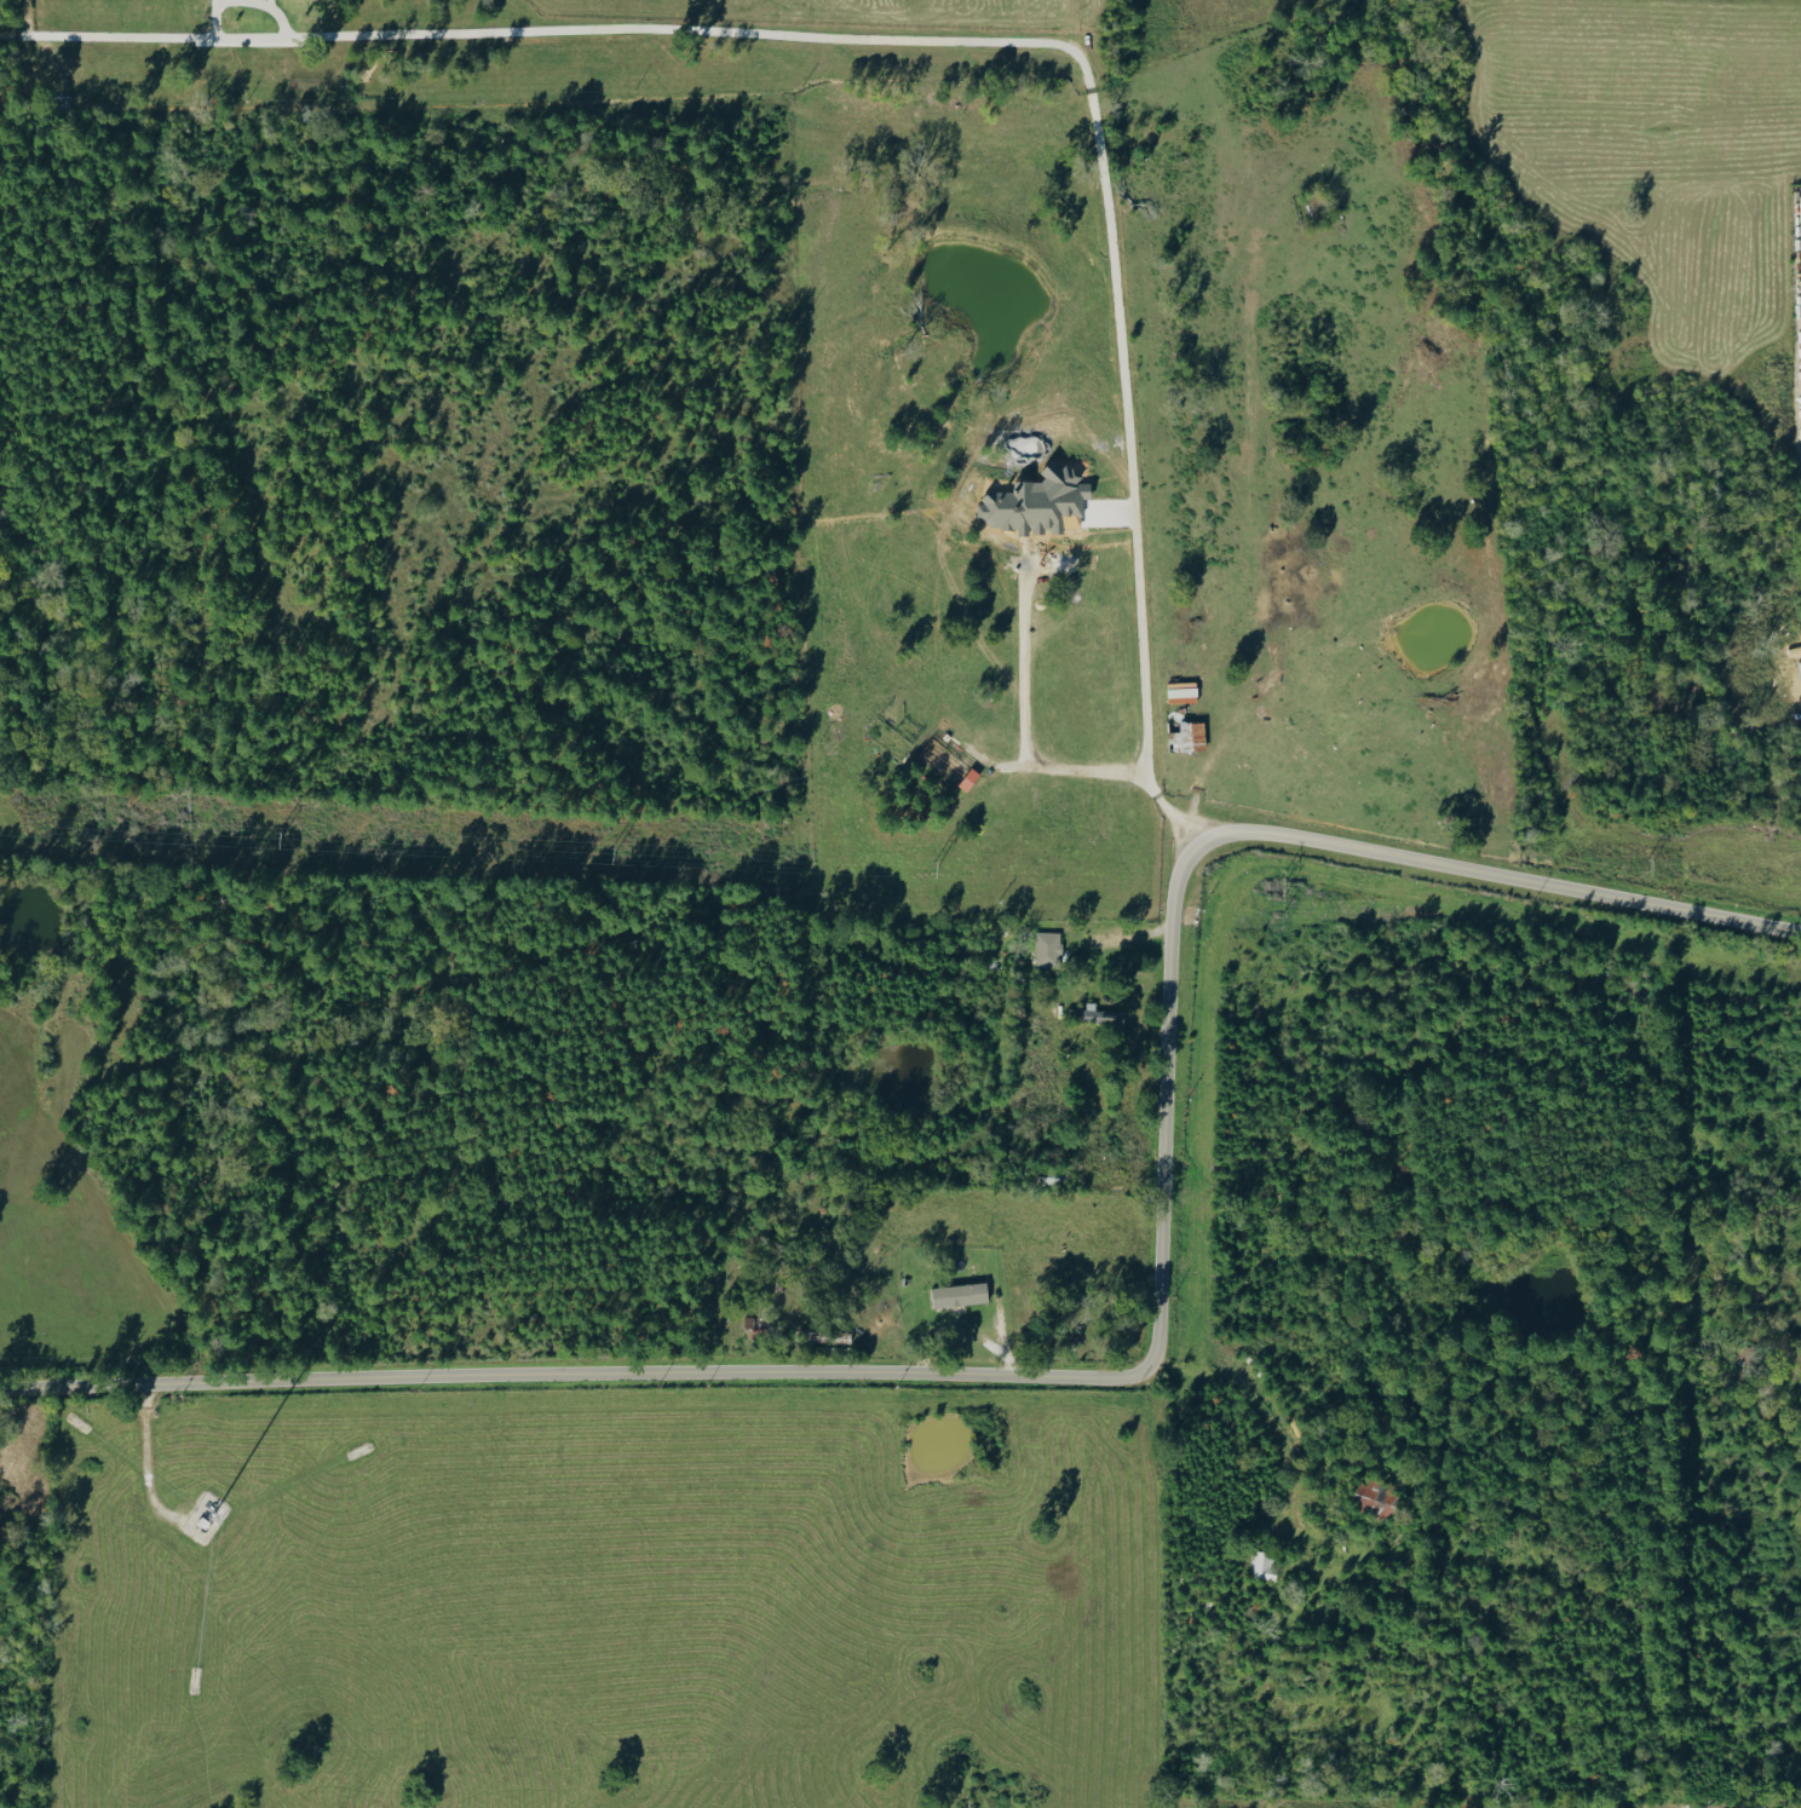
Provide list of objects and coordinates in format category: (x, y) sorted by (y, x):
road: (944, 46)
building: (1181, 692)
building: (1185, 736)
building: (948, 765)
road: (1076, 771)
power tower: (260, 834)
power tower: (614, 851)
power tower: (1642, 860)
power tower: (921, 875)
building: (1047, 949)
building: (1093, 1015)
building: (957, 1295)
road: (1144, 1359)
building: (1373, 1498)

